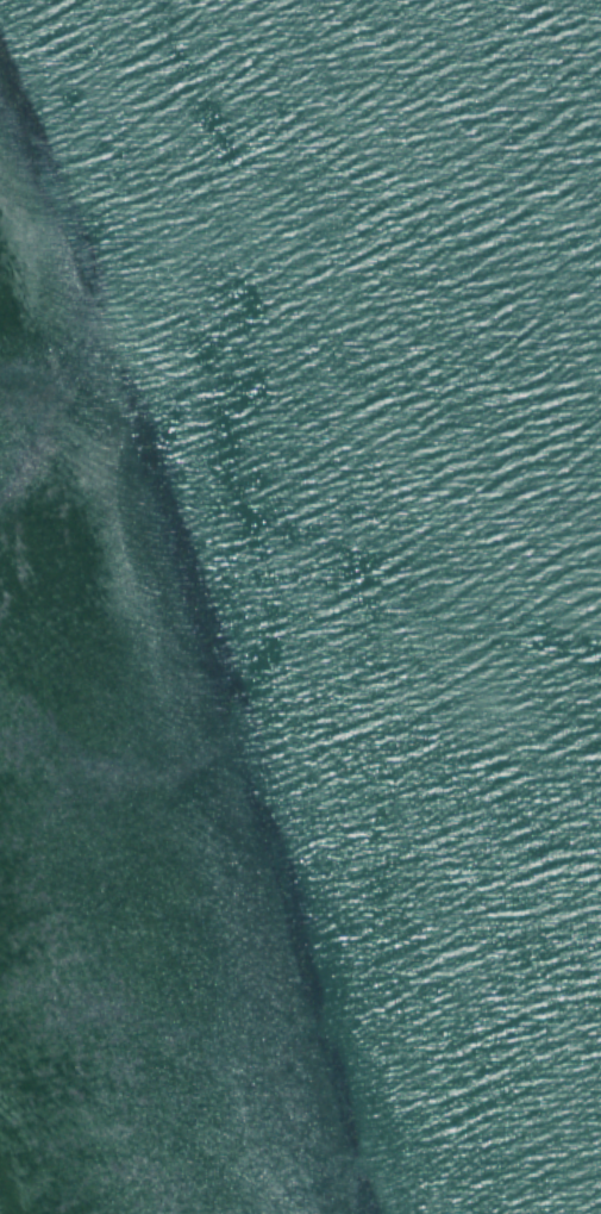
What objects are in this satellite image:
river: (476, 225)

